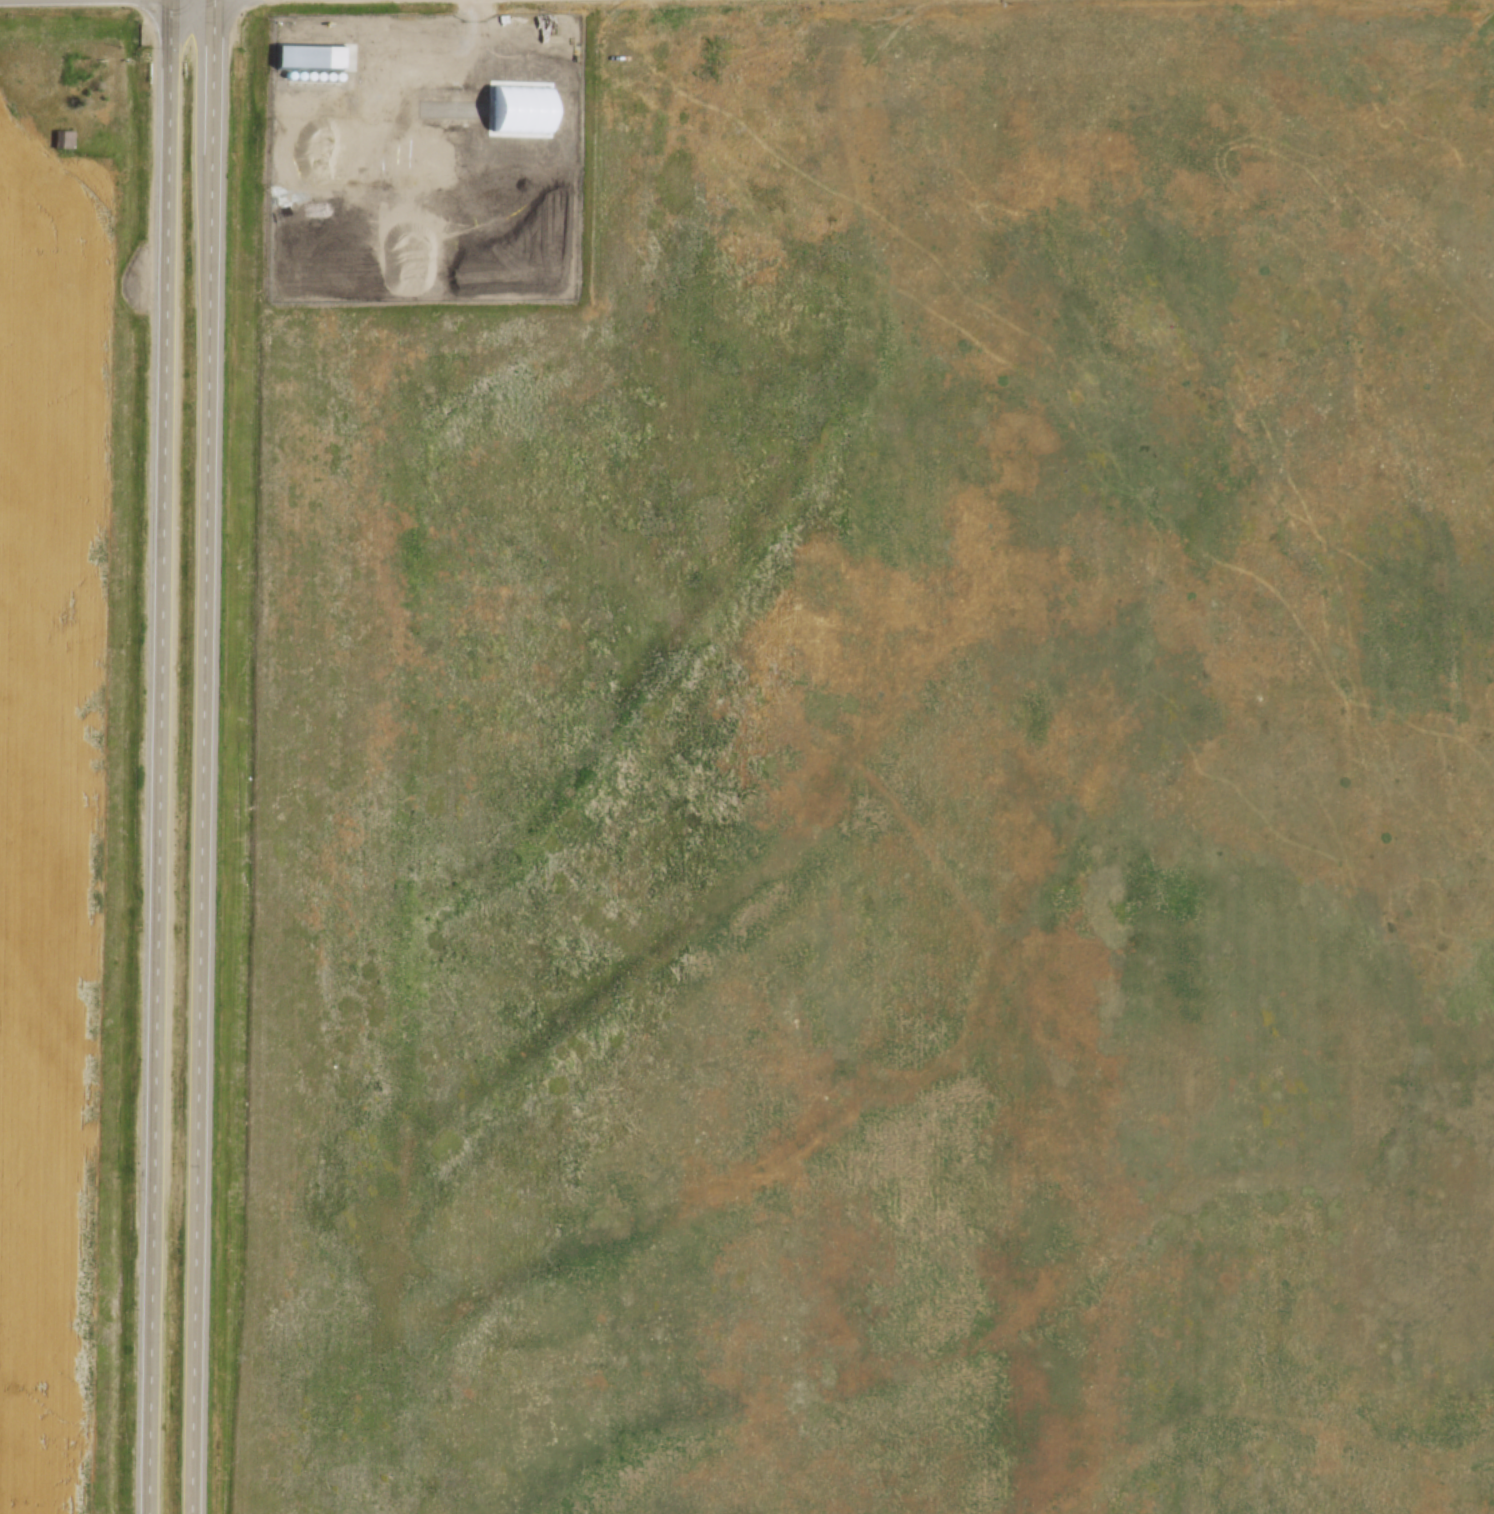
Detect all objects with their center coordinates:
building: (307, 55)
building: (519, 107)
building: (61, 137)
road: (162, 756)
road: (206, 756)
building: (199, 1271)

